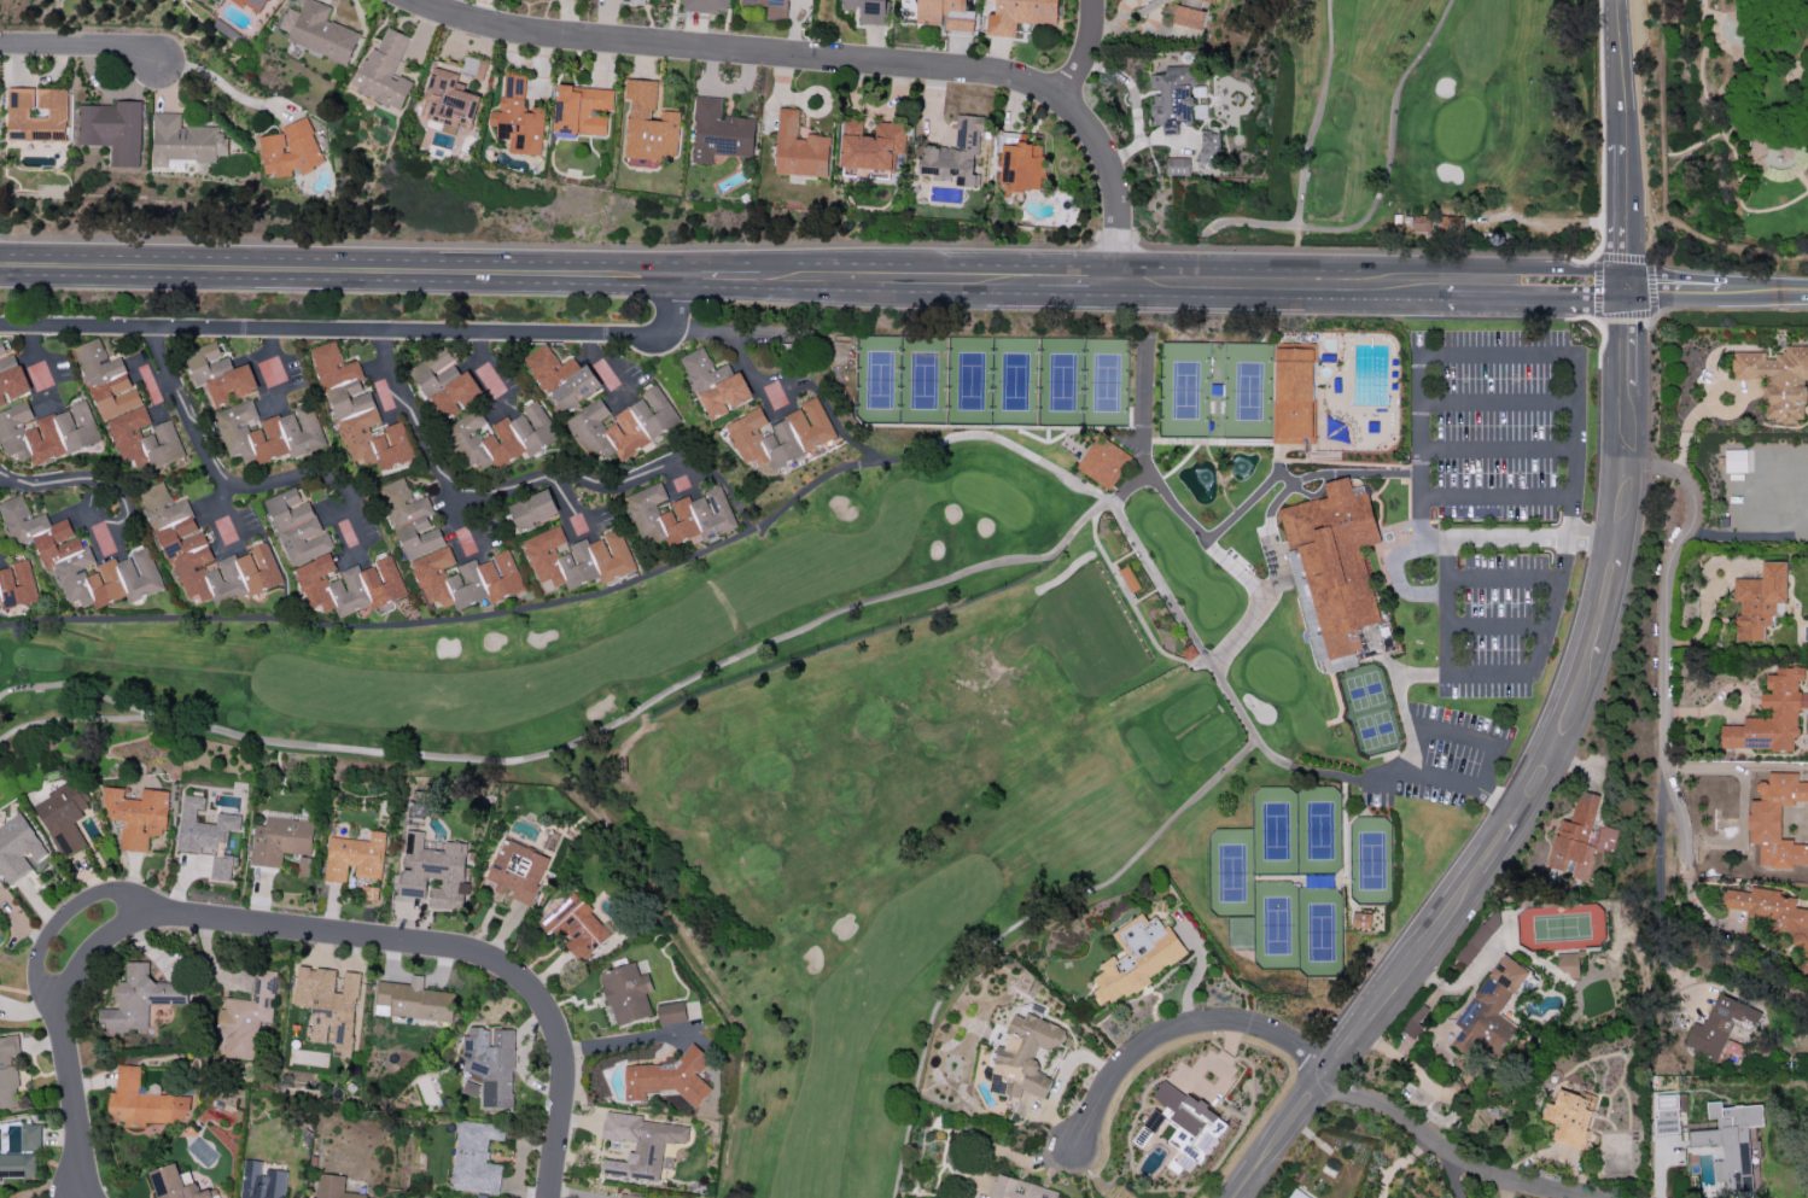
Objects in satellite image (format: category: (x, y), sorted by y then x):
building: (632, 1)
building: (1206, 1)
road: (1807, 1)
building: (252, 5)
building: (706, 5)
building: (771, 7)
building: (868, 10)
building: (945, 14)
building: (1020, 14)
building: (1189, 17)
building: (319, 31)
road: (76, 43)
road: (1086, 52)
road: (841, 60)
building: (384, 70)
road: (217, 82)
building: (1172, 97)
building: (448, 101)
building: (582, 109)
building: (36, 113)
building: (518, 117)
road: (1314, 123)
building: (648, 124)
building: (113, 129)
building: (719, 132)
road: (1725, 136)
building: (185, 140)
road: (1623, 144)
road: (1692, 144)
building: (871, 145)
park: (1720, 146)
building: (799, 147)
building: (1209, 147)
building: (288, 148)
building: (956, 153)
building: (1178, 165)
road: (1803, 180)
road: (1663, 181)
road: (1377, 188)
road: (1544, 222)
building: (1539, 236)
road: (1471, 252)
road: (1539, 269)
road: (338, 273)
road: (1430, 275)
road: (717, 277)
road: (899, 281)
road: (1080, 284)
road: (1266, 284)
road: (1672, 286)
road: (1765, 286)
road: (1429, 290)
road: (1535, 299)
road: (362, 333)
road: (1145, 335)
road: (1494, 353)
road: (43, 364)
road: (617, 367)
building: (221, 374)
road: (286, 375)
road: (494, 375)
building: (562, 376)
building: (11, 378)
building: (106, 379)
building: (1777, 379)
park: (995, 380)
building: (445, 382)
building: (716, 384)
road: (689, 386)
park: (1217, 388)
road: (772, 391)
building: (1293, 395)
road: (1494, 399)
building: (360, 415)
road: (389, 421)
road: (162, 422)
building: (622, 426)
building: (46, 432)
building: (269, 433)
building: (781, 434)
building: (503, 436)
building: (144, 440)
road: (1494, 446)
road: (1415, 448)
building: (1734, 460)
building: (1103, 461)
road: (436, 463)
road: (350, 474)
road: (53, 481)
road: (618, 481)
road: (232, 485)
road: (1128, 486)
road: (1316, 493)
road: (1493, 493)
parking lot: (1495, 497)
road: (568, 503)
building: (533, 509)
building: (680, 515)
road: (1569, 515)
road: (123, 518)
road: (233, 519)
building: (412, 520)
building: (297, 526)
road: (472, 528)
road: (1213, 532)
road: (1465, 540)
building: (205, 555)
building: (577, 557)
building: (80, 559)
road: (1233, 567)
building: (1332, 567)
road: (1277, 575)
road: (1503, 575)
building: (466, 578)
building: (1128, 578)
building: (16, 584)
building: (350, 584)
road: (583, 598)
building: (1759, 601)
road: (1497, 625)
road: (757, 648)
road: (1436, 672)
road: (1489, 673)
road: (1664, 674)
road: (80, 682)
park: (978, 682)
park: (1370, 709)
building: (1771, 714)
road: (1454, 734)
parking lot: (1435, 762)
road: (1422, 776)
road: (1536, 782)
road: (1482, 787)
building: (136, 816)
building: (63, 817)
building: (1775, 819)
building: (206, 834)
building: (1580, 837)
building: (280, 838)
building: (18, 849)
building: (355, 857)
park: (1372, 859)
building: (304, 865)
building: (433, 871)
building: (515, 871)
park: (1253, 883)
road: (1657, 889)
building: (1772, 913)
road: (57, 916)
building: (1361, 919)
building: (576, 925)
road: (1014, 927)
building: (1477, 939)
road: (421, 946)
building: (1136, 957)
building: (1568, 963)
building: (626, 993)
building: (140, 999)
building: (414, 1000)
building: (328, 1005)
building: (1491, 1007)
building: (671, 1012)
building: (246, 1016)
building: (1415, 1022)
building: (1720, 1025)
road: (1182, 1029)
road: (624, 1041)
building: (1023, 1057)
building: (490, 1065)
building: (8, 1071)
road: (71, 1073)
building: (670, 1077)
road: (1445, 1093)
building: (142, 1101)
building: (1666, 1115)
building: (1569, 1116)
building: (1184, 1124)
building: (30, 1136)
building: (640, 1144)
building: (1725, 1150)
road: (1457, 1152)
building: (476, 1157)
building: (17, 1164)
road: (1451, 1171)
road: (70, 1175)
building: (262, 1181)
building: (175, 1184)
building: (334, 1187)
building: (1020, 1188)
building: (1296, 1194)
building: (631, 1196)
building: (683, 1197)

